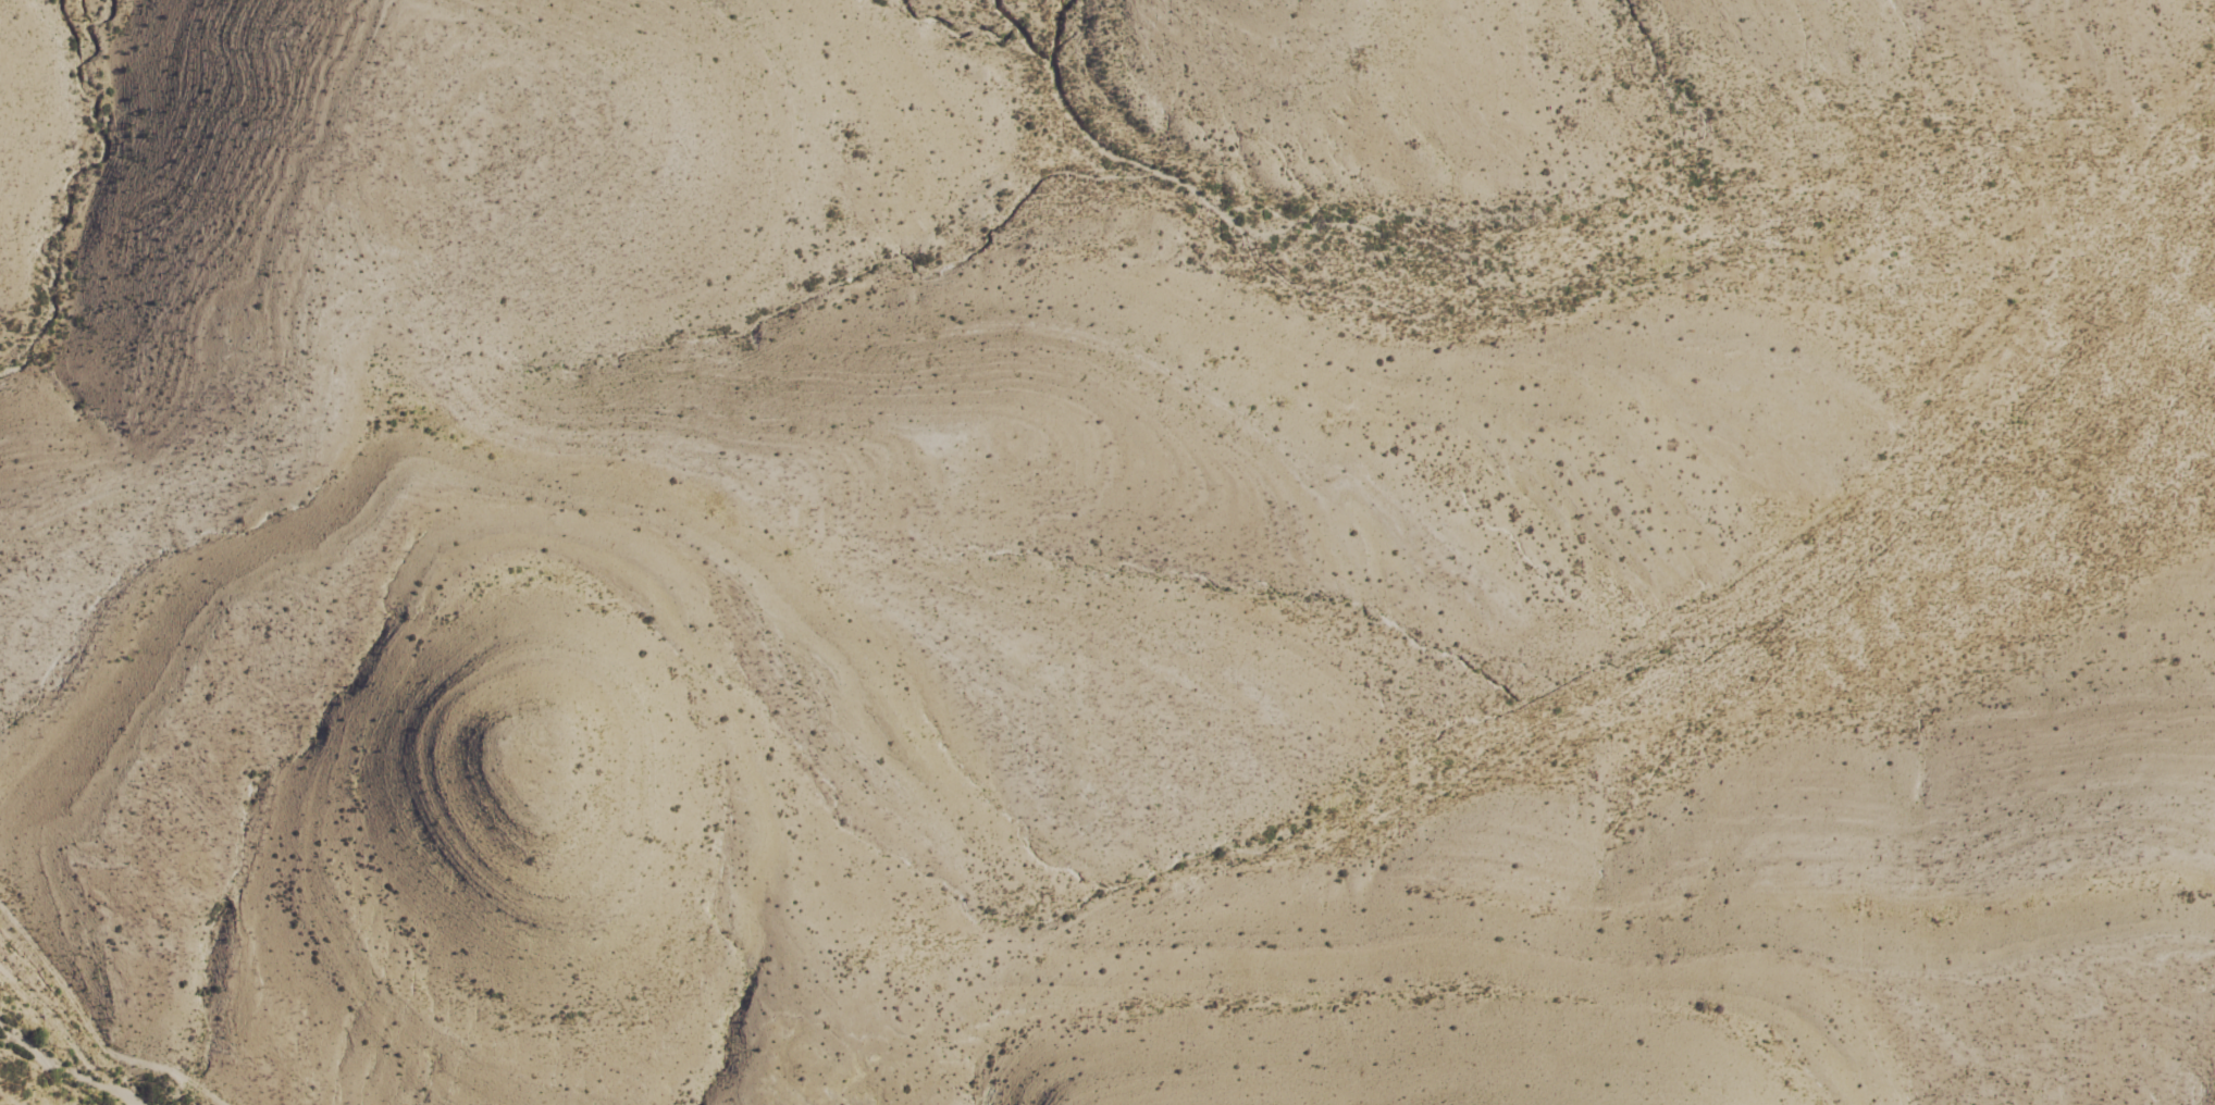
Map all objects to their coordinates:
road: (78, 1022)

